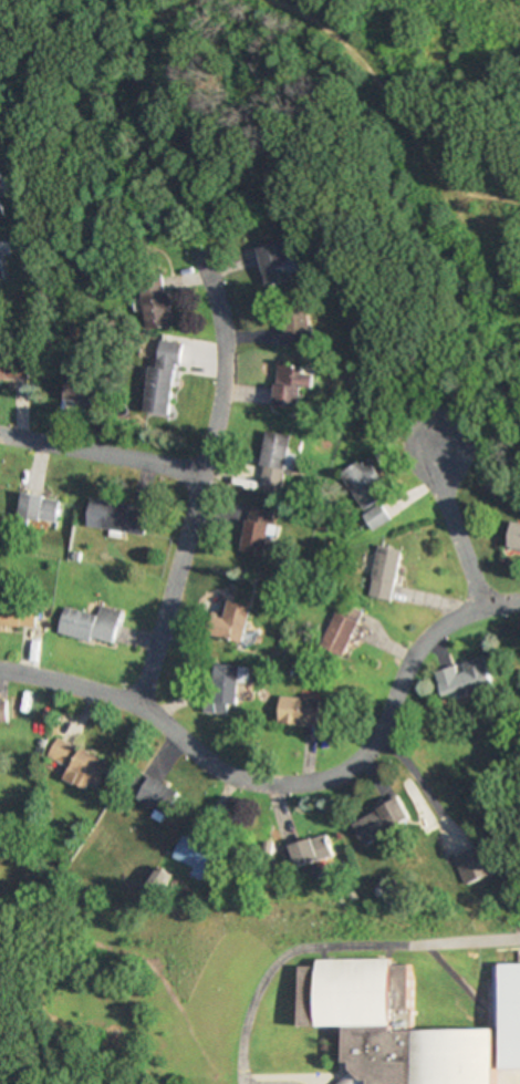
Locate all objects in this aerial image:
road: (134, 63)
road: (371, 80)
building: (0, 180)
road: (488, 195)
building: (1, 211)
building: (278, 265)
building: (1, 270)
building: (155, 303)
building: (299, 321)
road: (219, 344)
building: (11, 367)
building: (162, 380)
building: (289, 385)
building: (83, 391)
road: (98, 453)
building: (272, 458)
building: (364, 484)
building: (35, 508)
building: (377, 516)
building: (115, 517)
road: (453, 526)
building: (258, 530)
building: (518, 538)
building: (386, 571)
building: (19, 613)
building: (235, 619)
building: (89, 624)
building: (343, 632)
building: (467, 678)
building: (223, 688)
building: (2, 710)
building: (301, 711)
building: (80, 763)
road: (410, 785)
road: (288, 786)
building: (158, 794)
building: (384, 820)
building: (314, 850)
building: (209, 860)
building: (474, 865)
road: (325, 947)
building: (349, 995)

